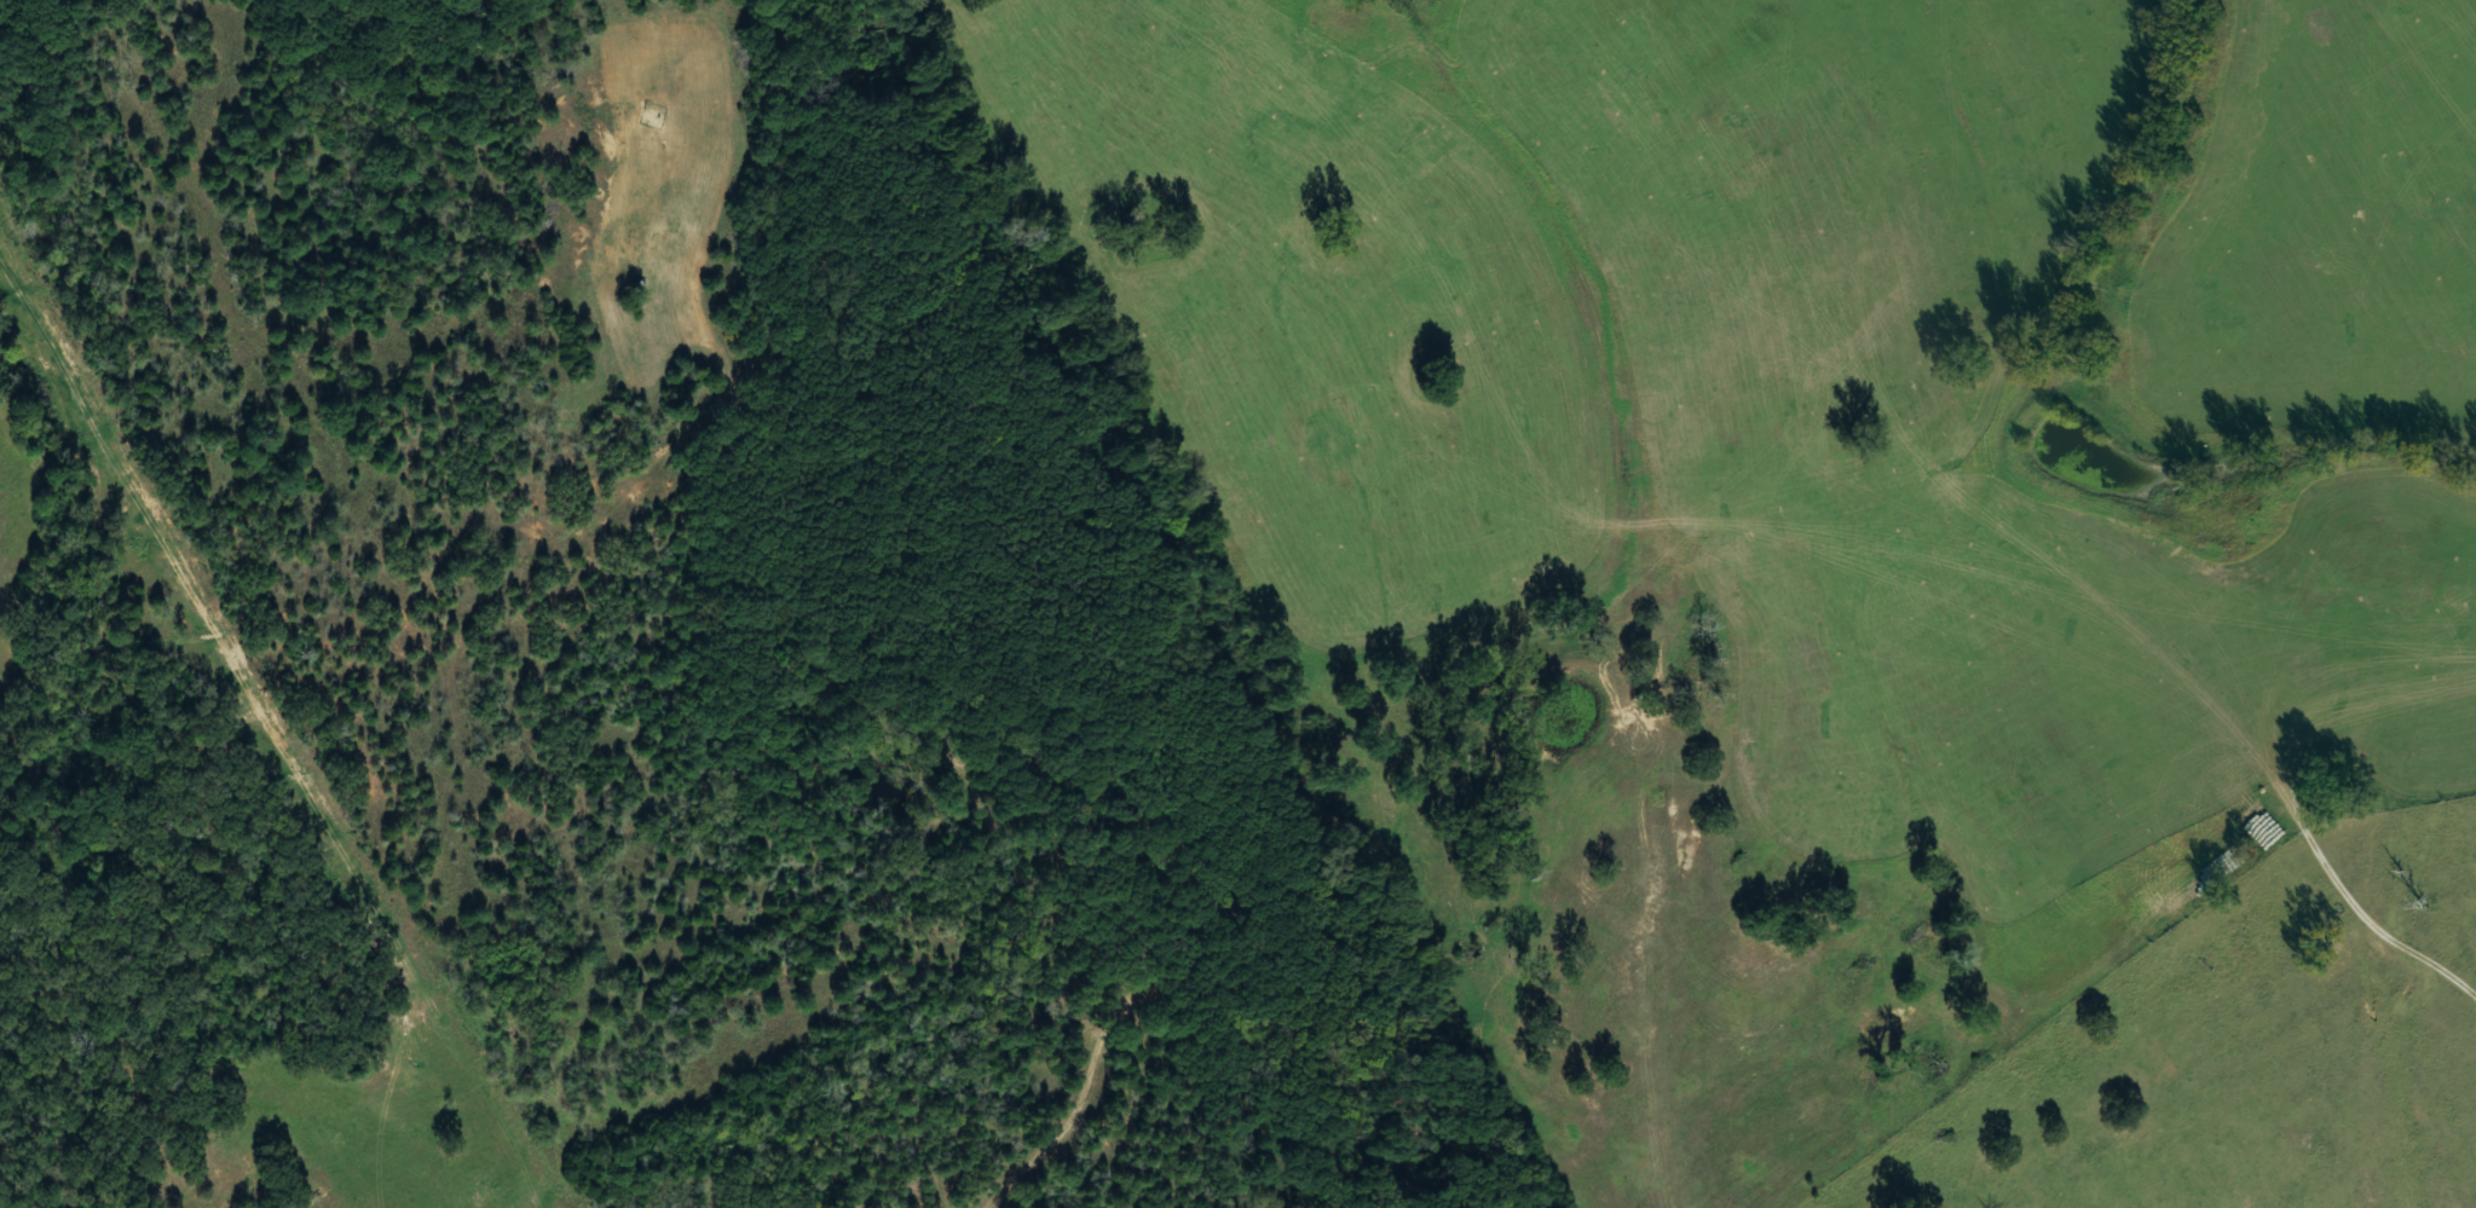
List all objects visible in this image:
road: (369, 597)

